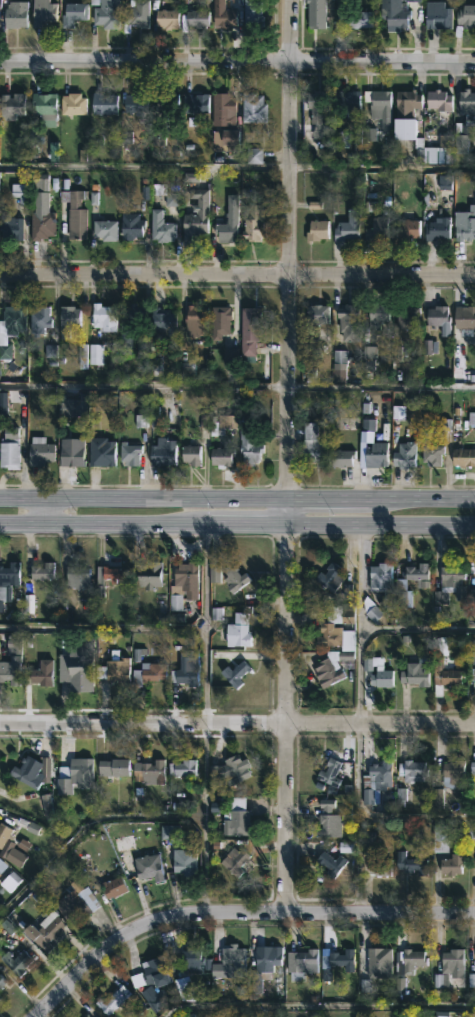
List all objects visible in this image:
building: (249, 11)
building: (41, 12)
building: (72, 14)
building: (104, 14)
building: (13, 15)
building: (133, 15)
building: (314, 15)
building: (437, 16)
building: (465, 16)
building: (194, 18)
building: (222, 18)
building: (394, 18)
building: (165, 19)
building: (351, 19)
road: (237, 59)
building: (437, 101)
building: (344, 102)
building: (315, 103)
building: (376, 103)
building: (102, 104)
building: (134, 104)
building: (168, 104)
building: (193, 104)
building: (70, 105)
building: (12, 106)
building: (42, 106)
building: (466, 107)
building: (251, 108)
building: (223, 117)
building: (406, 120)
building: (458, 140)
road: (237, 167)
building: (165, 195)
building: (73, 215)
building: (194, 216)
building: (251, 224)
building: (40, 225)
building: (464, 225)
building: (129, 226)
building: (346, 226)
building: (9, 228)
building: (159, 228)
building: (103, 230)
building: (375, 230)
building: (436, 230)
building: (224, 231)
building: (315, 231)
building: (405, 231)
road: (237, 274)
building: (315, 315)
building: (102, 317)
building: (373, 317)
building: (12, 319)
building: (66, 320)
building: (438, 320)
building: (37, 321)
building: (194, 321)
building: (406, 321)
building: (464, 321)
building: (218, 322)
building: (161, 324)
building: (345, 324)
building: (128, 326)
building: (248, 333)
road: (143, 385)
road: (380, 386)
building: (313, 446)
building: (249, 448)
building: (372, 450)
building: (37, 452)
building: (101, 452)
building: (160, 452)
building: (128, 453)
building: (8, 454)
building: (68, 454)
road: (286, 454)
building: (403, 456)
building: (430, 456)
building: (193, 457)
building: (220, 457)
building: (340, 458)
building: (463, 458)
road: (237, 497)
road: (44, 510)
road: (237, 523)
building: (415, 571)
building: (44, 572)
building: (116, 574)
building: (147, 574)
building: (75, 576)
building: (328, 576)
building: (379, 576)
building: (472, 576)
building: (232, 577)
building: (185, 578)
building: (7, 581)
building: (452, 581)
building: (375, 615)
building: (324, 626)
road: (417, 628)
building: (236, 630)
building: (329, 666)
building: (75, 669)
building: (183, 669)
building: (113, 670)
building: (151, 671)
building: (414, 671)
building: (9, 672)
building: (234, 672)
building: (472, 676)
building: (380, 677)
building: (43, 678)
building: (444, 678)
road: (358, 717)
road: (237, 724)
building: (112, 767)
building: (180, 767)
building: (472, 769)
building: (230, 770)
building: (148, 771)
building: (410, 771)
building: (25, 772)
building: (74, 773)
building: (328, 773)
building: (448, 782)
building: (376, 783)
road: (127, 817)
road: (417, 817)
building: (235, 820)
building: (327, 820)
building: (5, 834)
building: (439, 838)
building: (182, 861)
building: (233, 861)
building: (328, 863)
building: (409, 863)
building: (3, 864)
building: (451, 864)
building: (147, 867)
building: (378, 867)
building: (112, 887)
building: (77, 900)
road: (235, 910)
building: (49, 929)
building: (232, 958)
building: (190, 959)
building: (341, 959)
building: (19, 962)
building: (378, 962)
building: (451, 962)
building: (301, 963)
building: (409, 965)
building: (263, 967)
building: (149, 973)
building: (2, 981)
building: (0, 997)
building: (111, 999)
building: (160, 1002)
road: (317, 1006)
building: (85, 1016)
building: (87, 1016)

